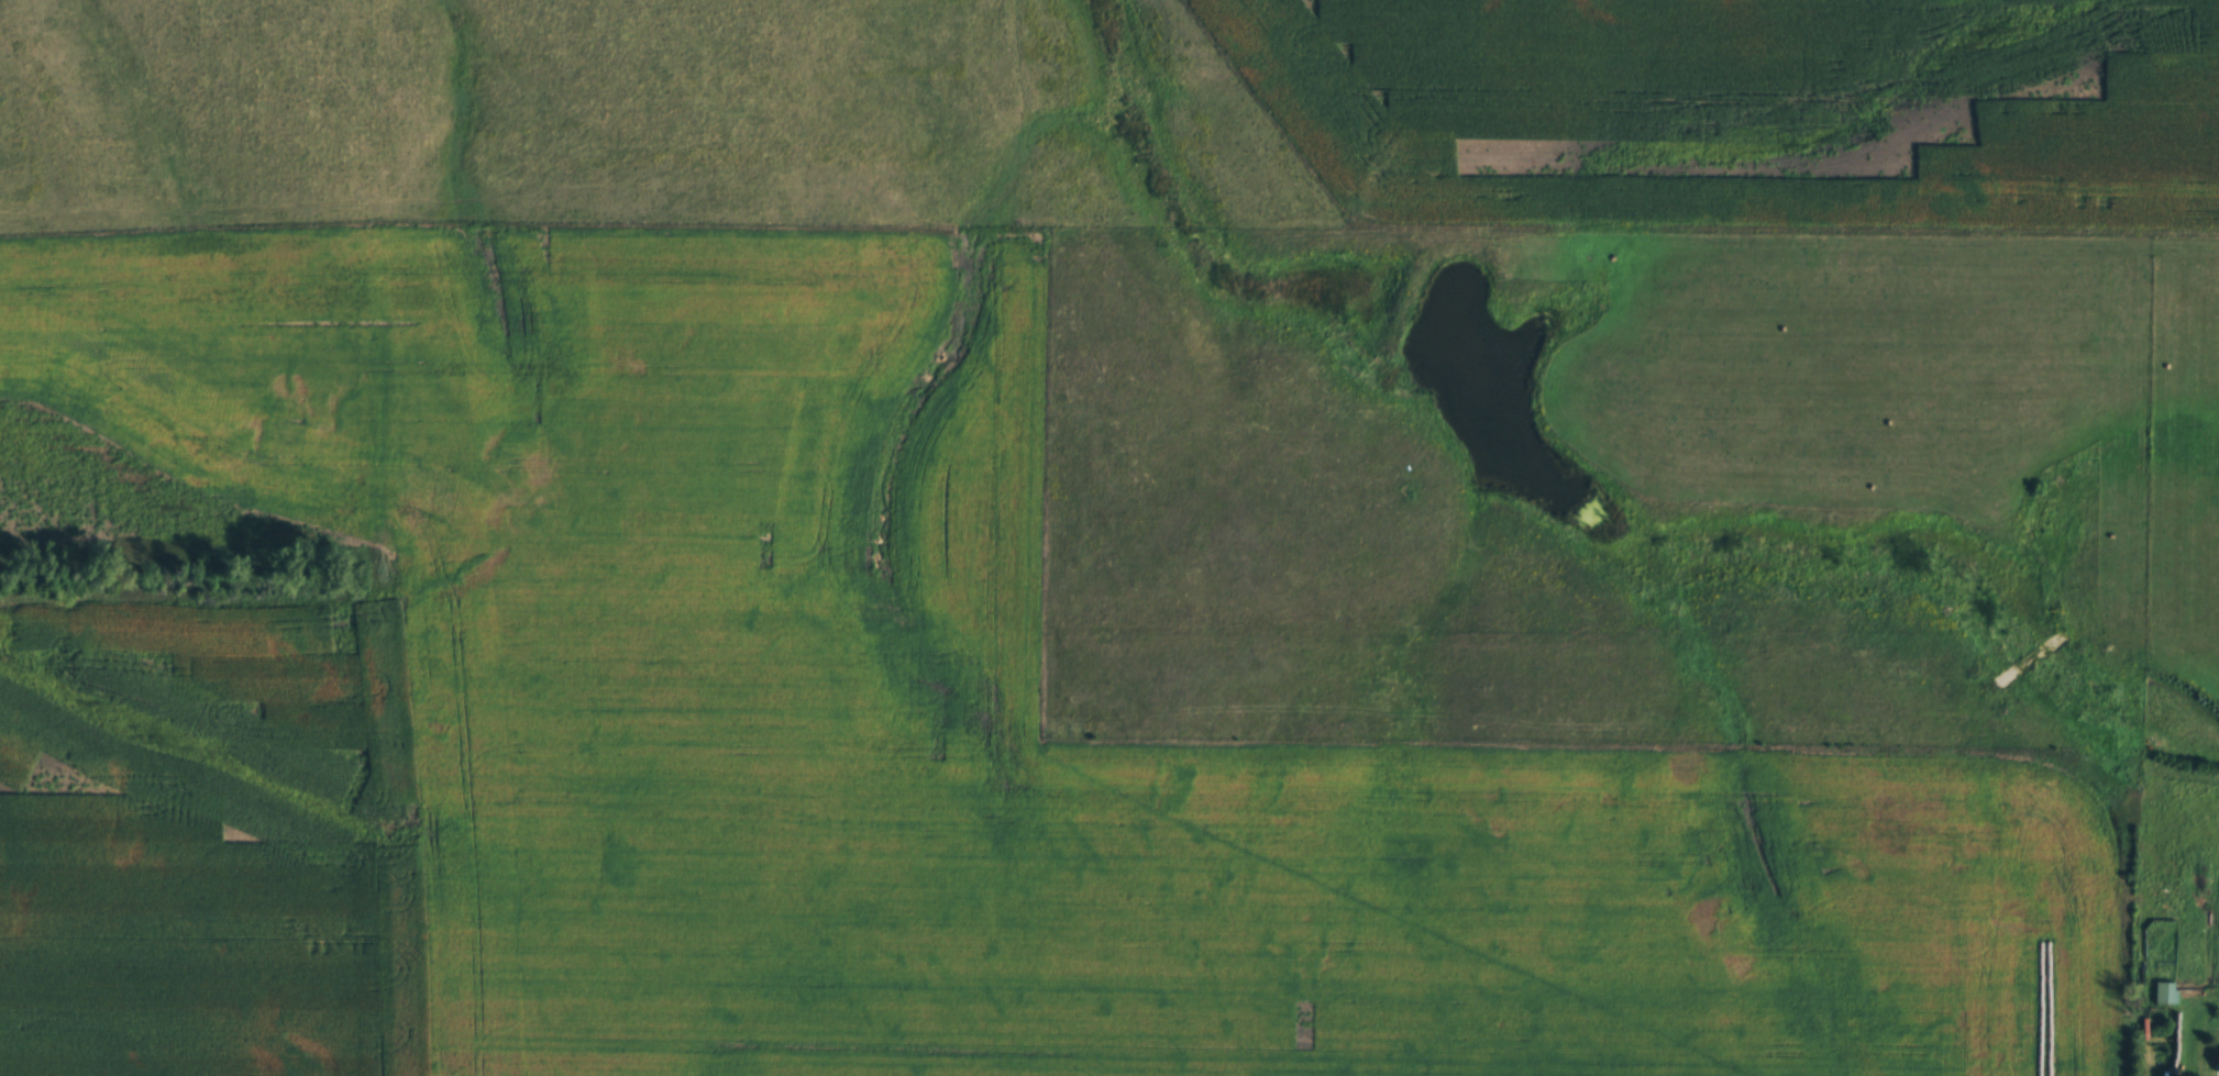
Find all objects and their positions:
building: (2164, 994)
building: (2217, 1063)

